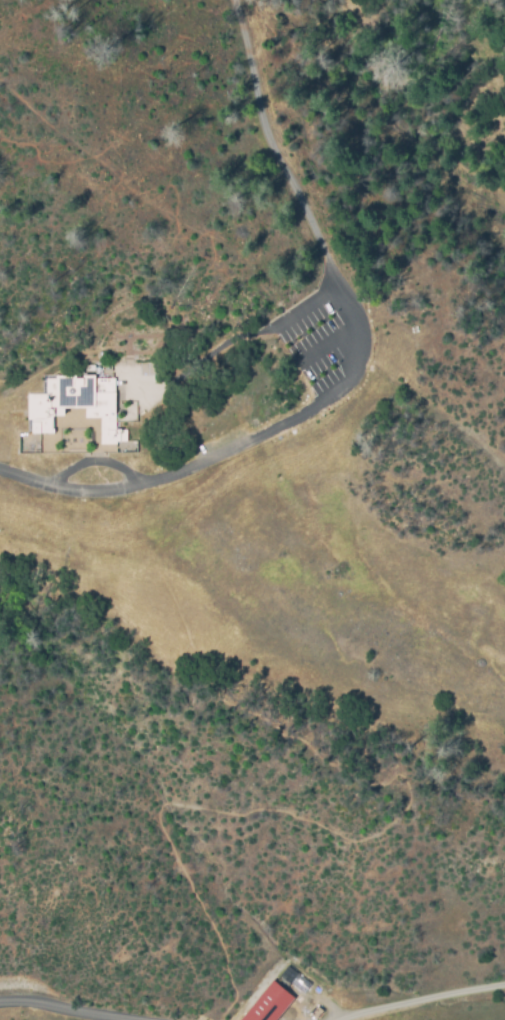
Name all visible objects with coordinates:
road: (271, 146)
road: (335, 286)
building: (91, 396)
road: (172, 475)
road: (420, 997)
road: (81, 1006)

